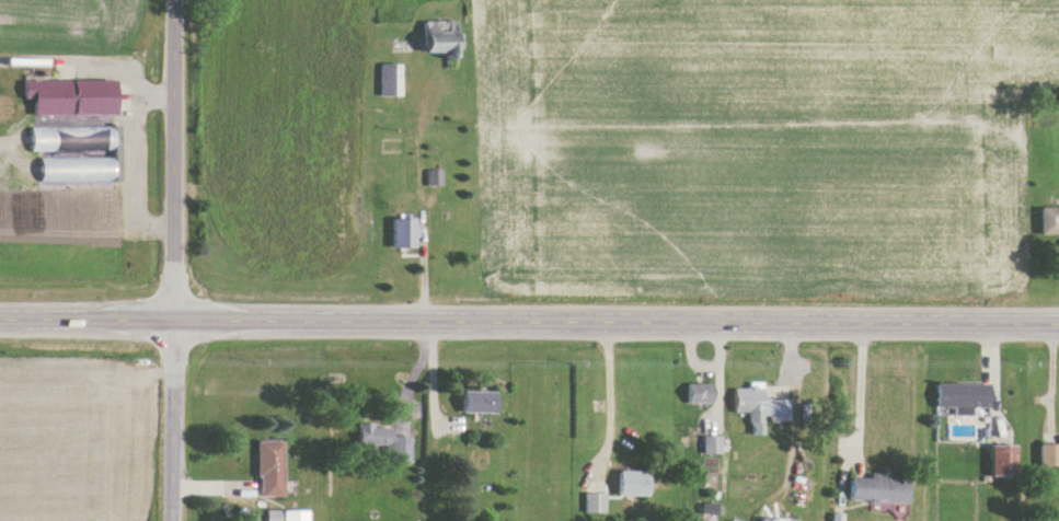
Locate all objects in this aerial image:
building: (444, 36)
road: (88, 54)
building: (393, 80)
building: (76, 123)
road: (157, 164)
road: (114, 170)
building: (431, 181)
building: (1049, 223)
building: (403, 236)
road: (529, 325)
road: (839, 382)
building: (699, 396)
building: (963, 398)
building: (477, 405)
building: (760, 412)
road: (157, 425)
building: (380, 447)
building: (710, 449)
building: (1048, 456)
building: (1004, 463)
building: (270, 472)
building: (633, 487)
building: (878, 493)
building: (594, 507)
building: (293, 518)
building: (836, 520)

